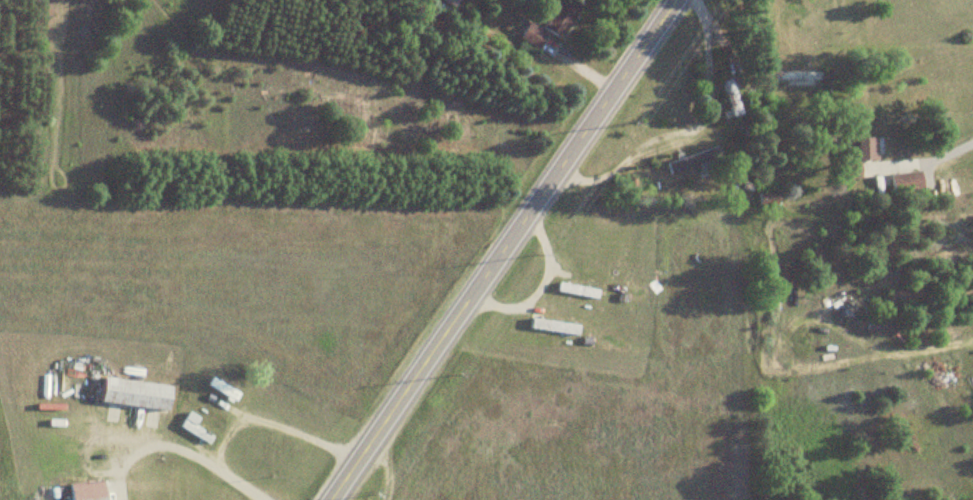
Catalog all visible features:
building: (451, 2)
building: (562, 16)
building: (533, 35)
building: (800, 77)
building: (867, 148)
building: (694, 160)
building: (907, 182)
road: (505, 250)
building: (578, 290)
building: (555, 326)
building: (224, 388)
building: (137, 394)
building: (196, 428)
building: (88, 491)

